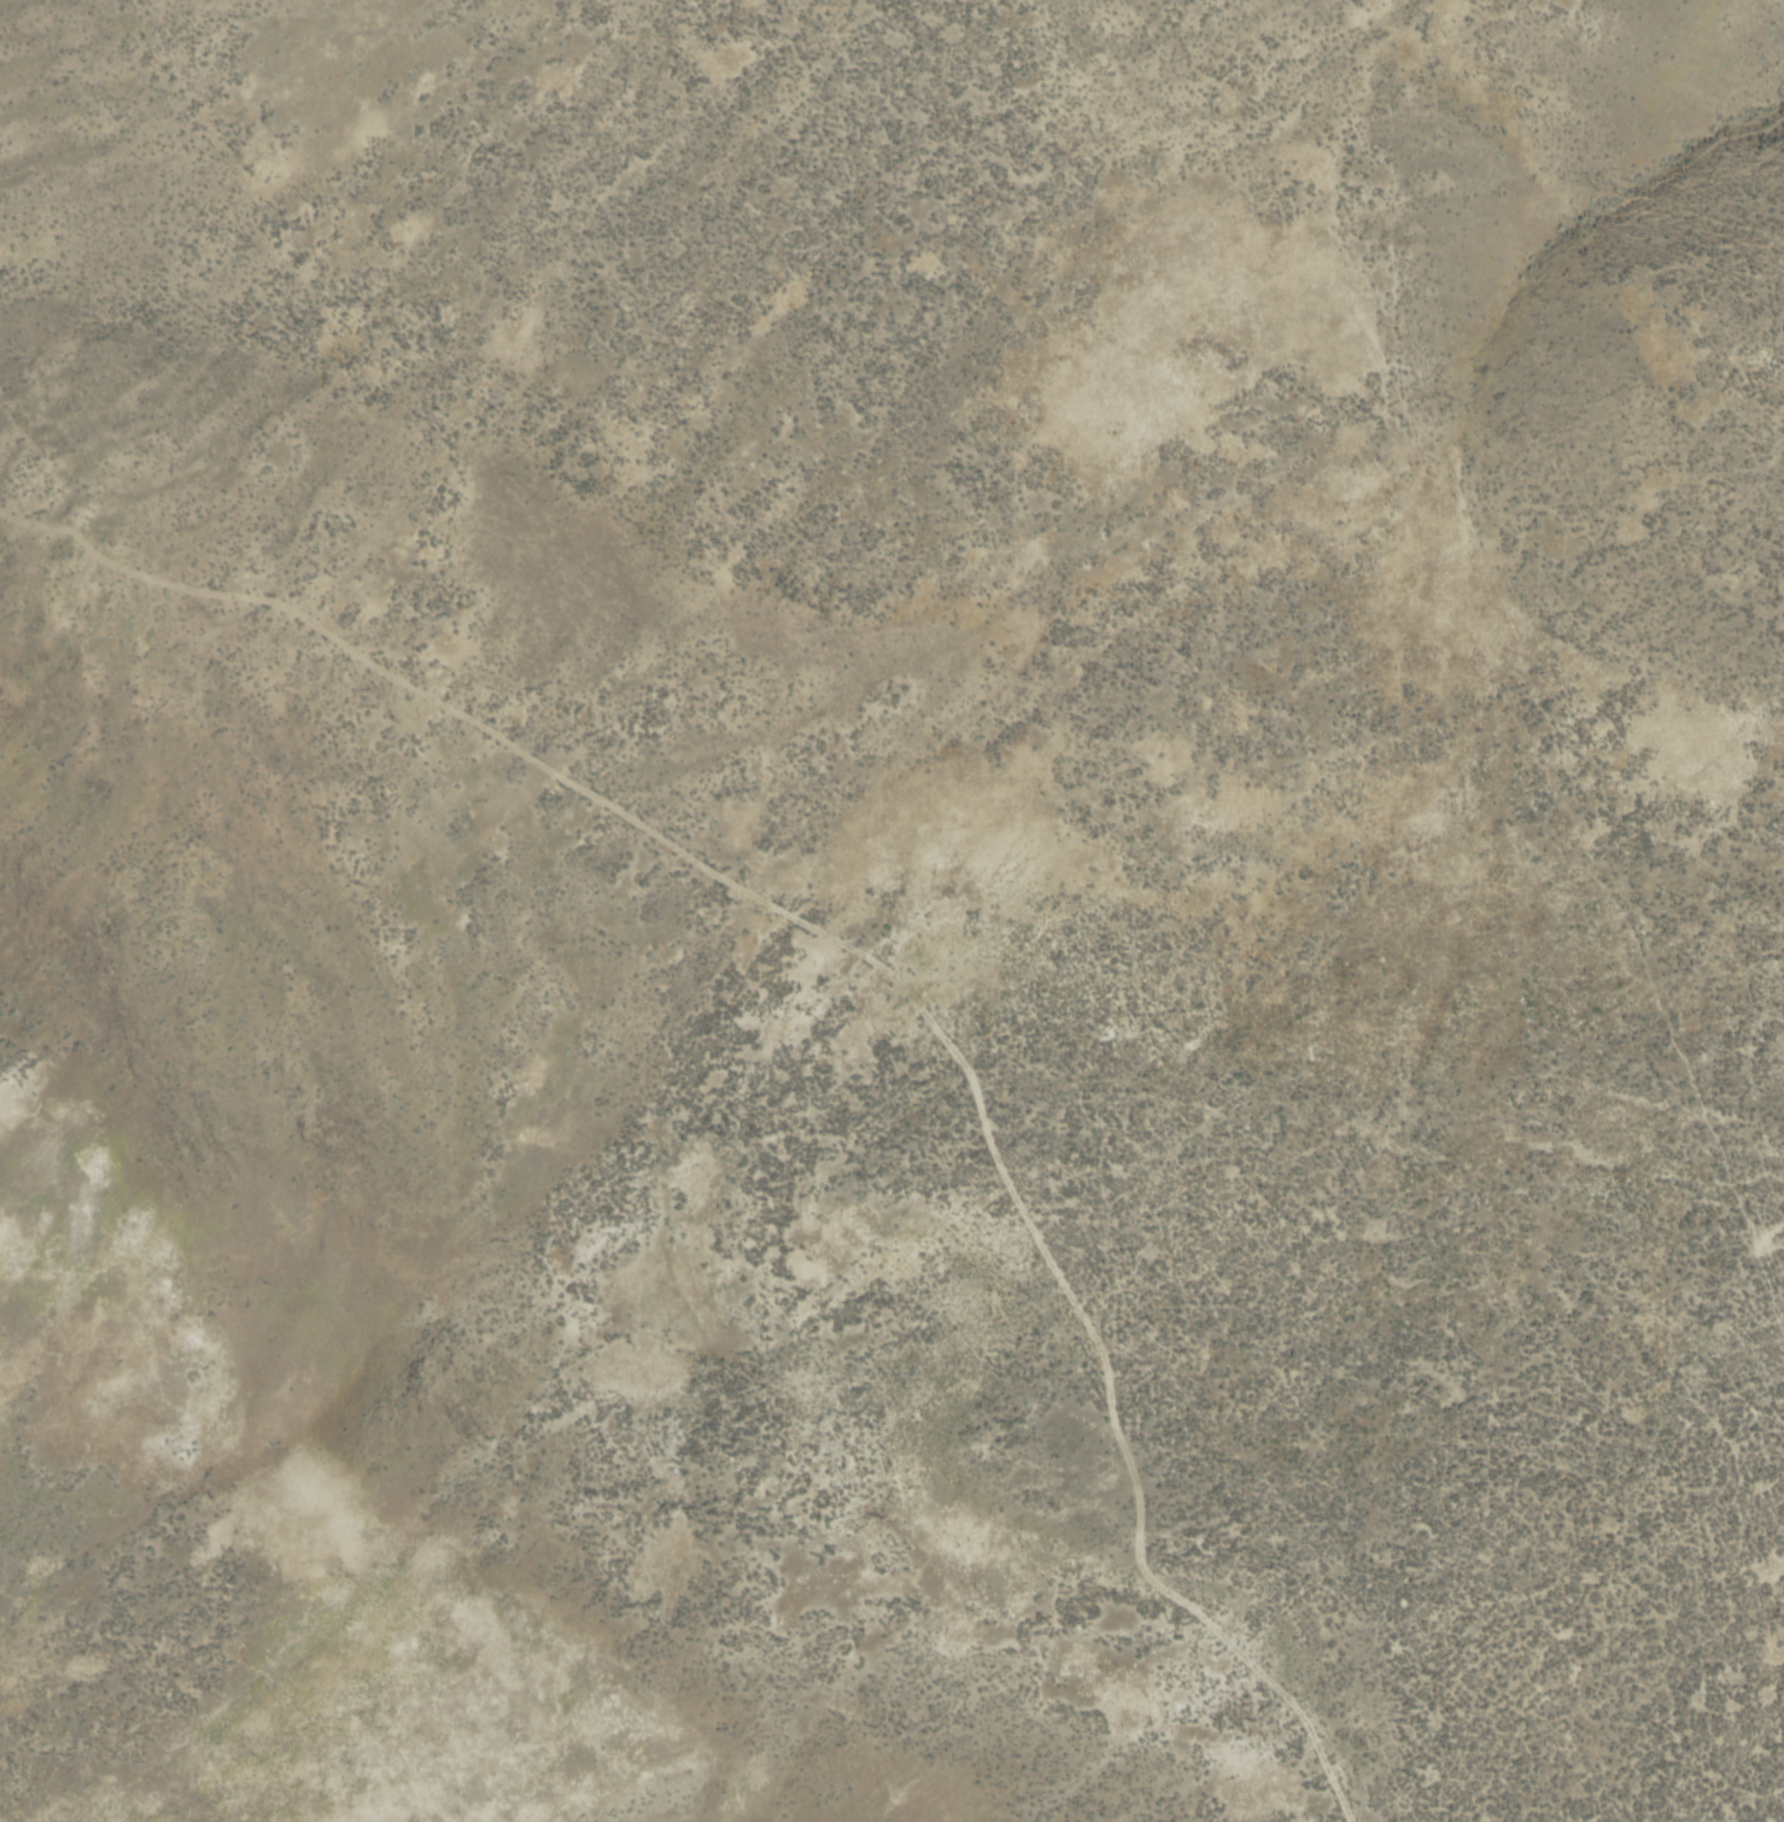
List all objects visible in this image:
road: (884, 965)

